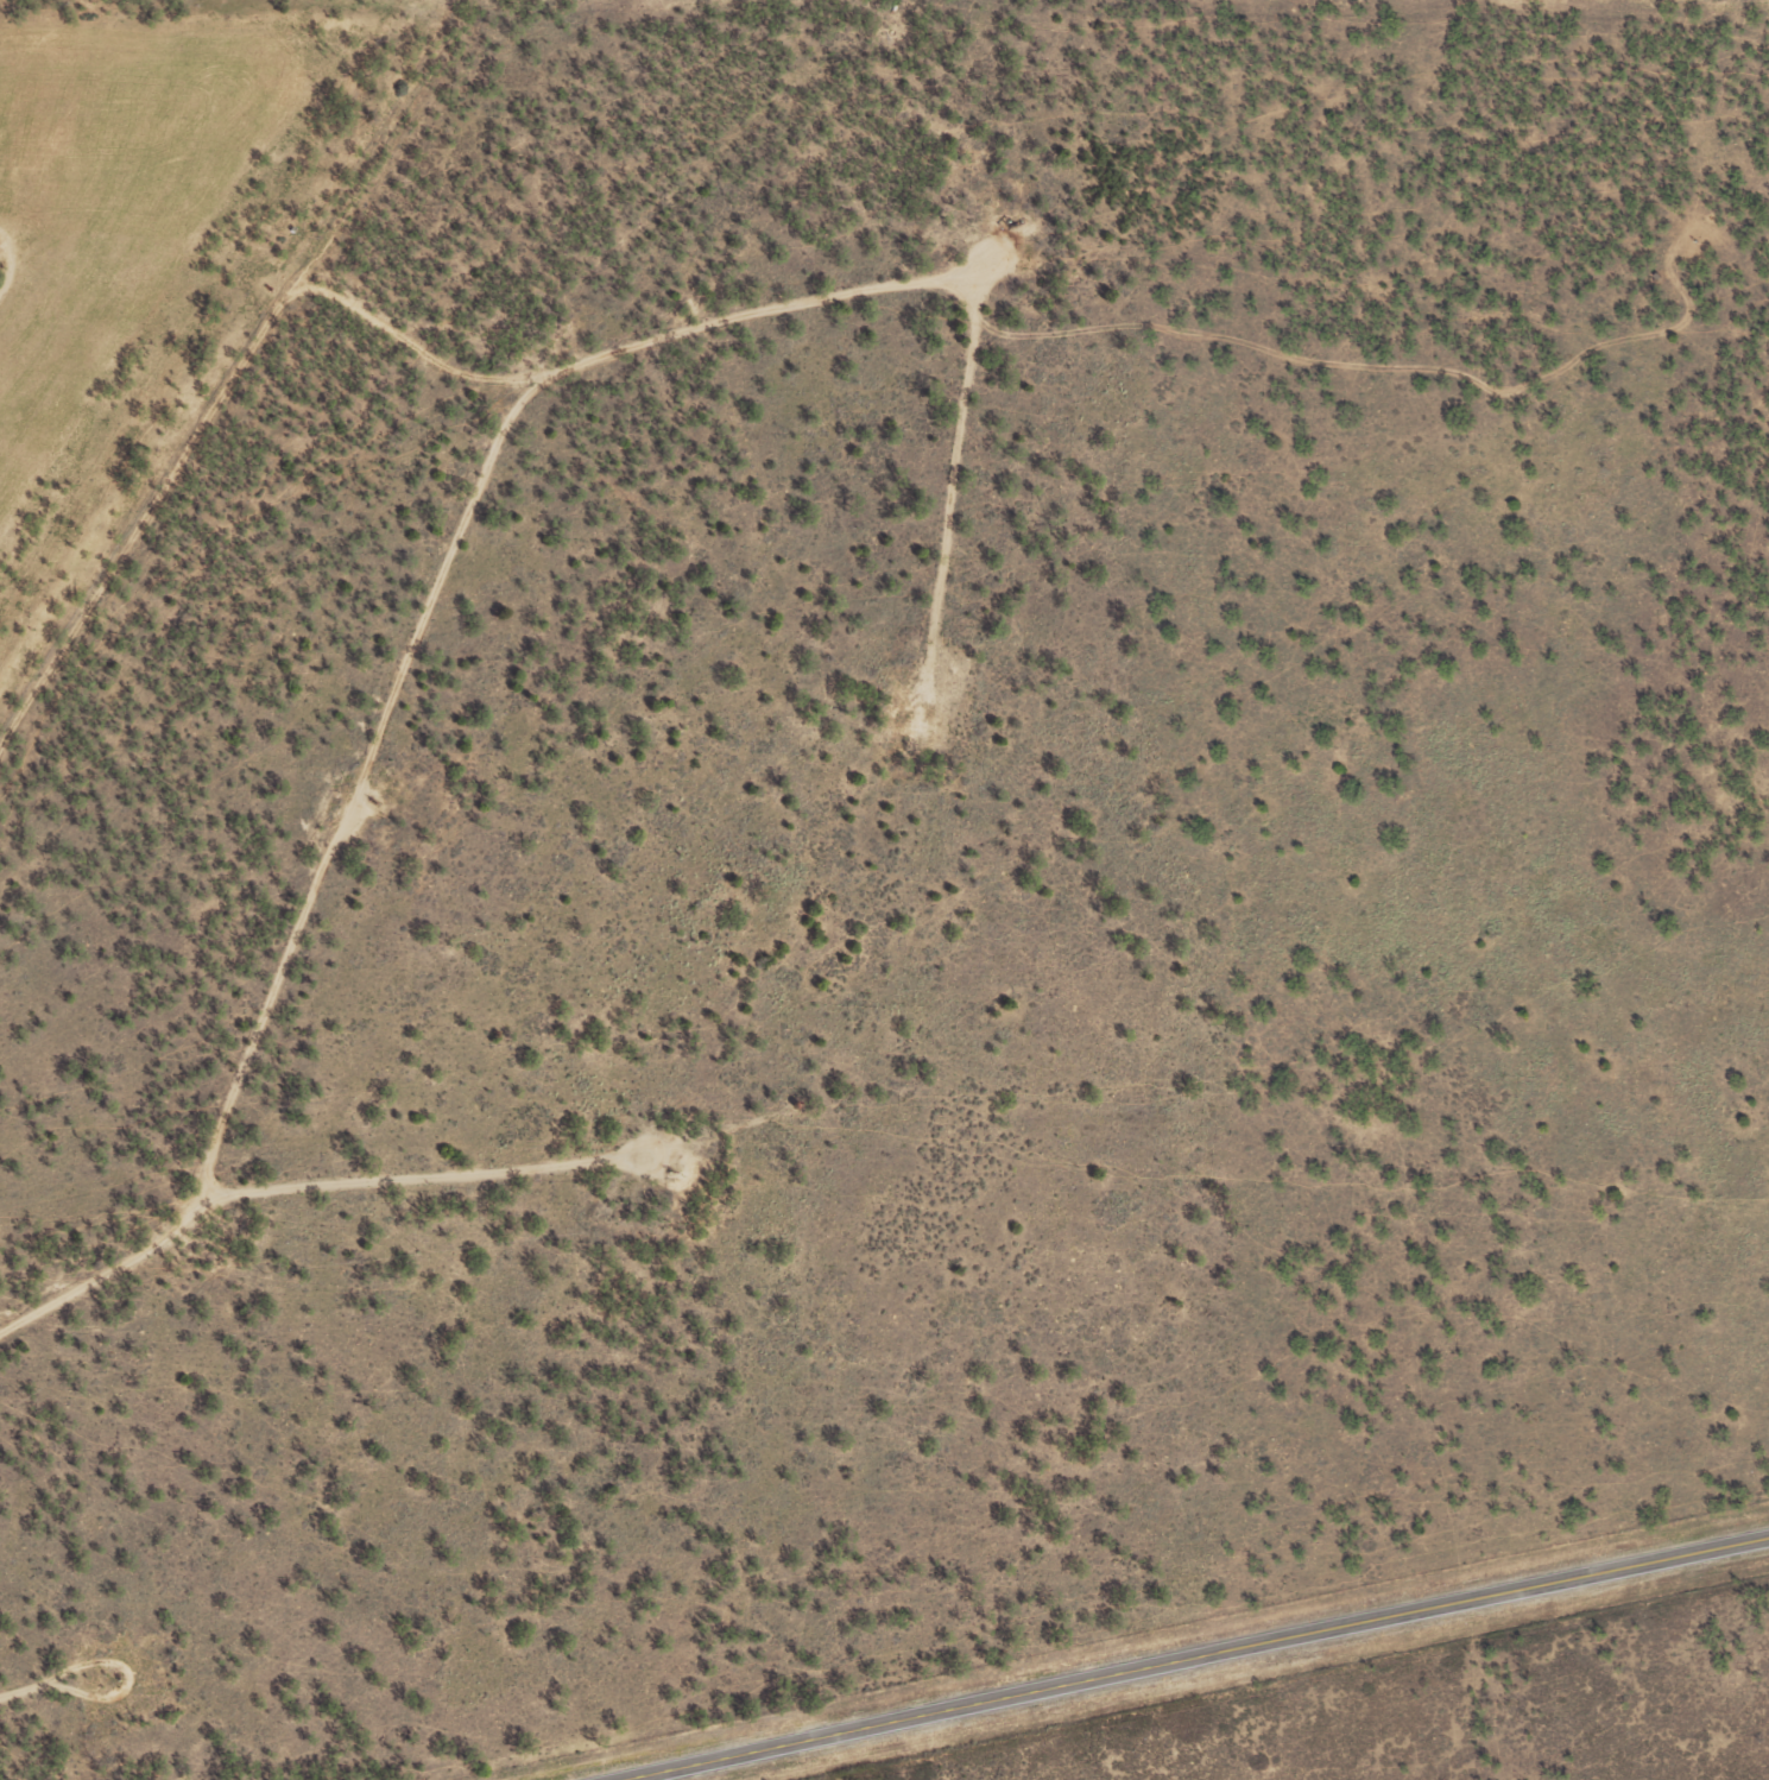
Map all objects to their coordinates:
road: (1188, 1660)

